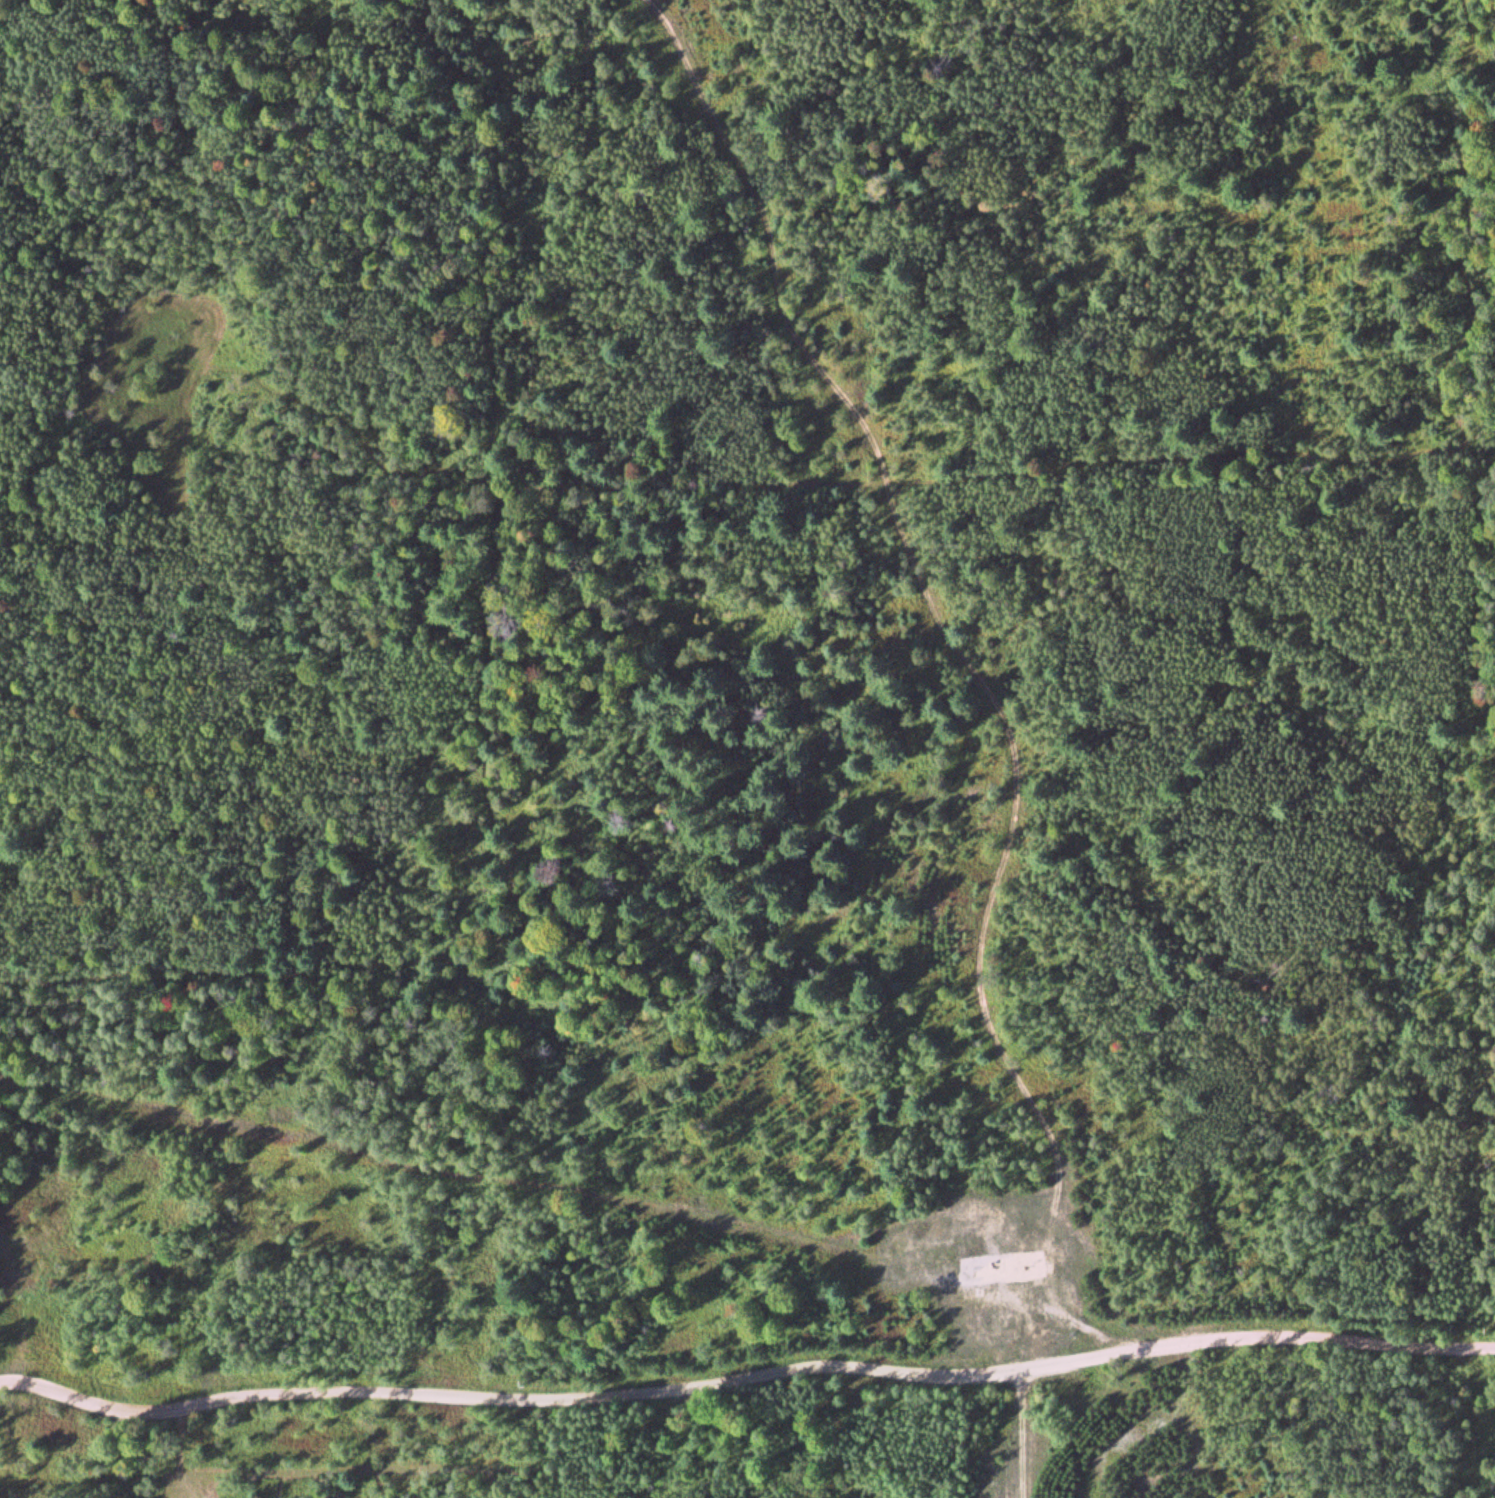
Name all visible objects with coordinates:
road: (947, 611)
road: (886, 1252)
building: (946, 1258)
petroleum well: (1024, 1265)
road: (1007, 1272)
road: (1070, 1317)
road: (745, 1377)
road: (1023, 1435)

